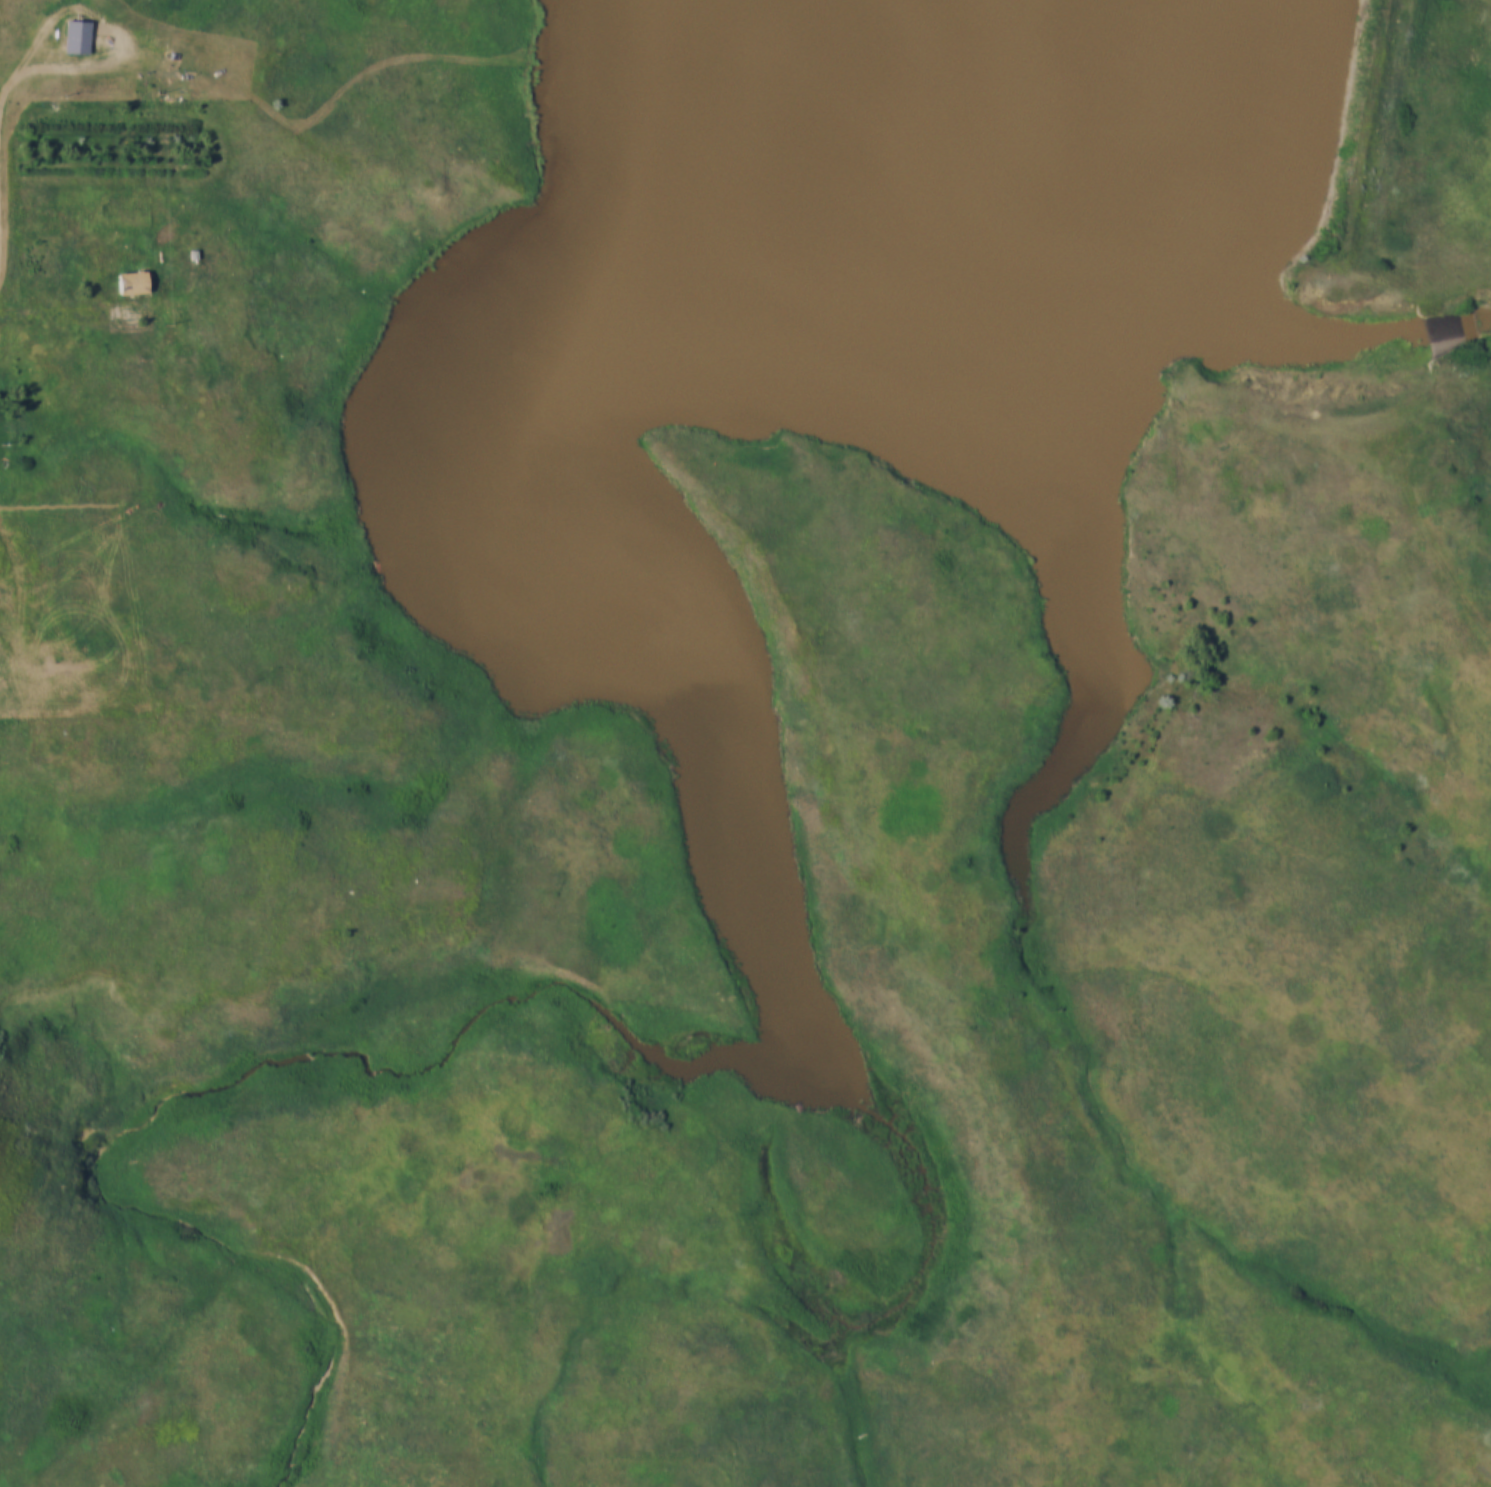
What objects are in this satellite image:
building: (68, 27)
road: (11, 62)
dam: (1356, 141)
building: (121, 276)
building: (133, 284)

